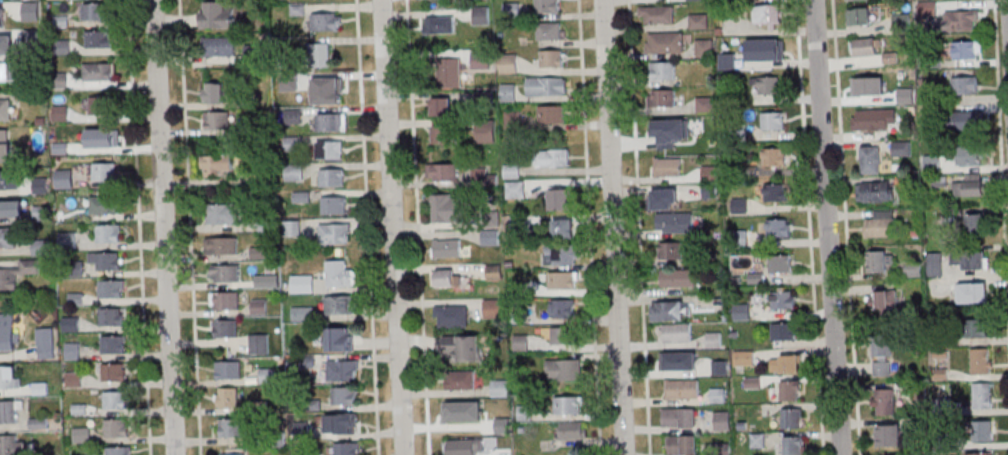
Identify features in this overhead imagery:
building: (547, 6)
building: (96, 12)
building: (217, 14)
building: (657, 14)
building: (481, 15)
building: (768, 15)
building: (859, 16)
building: (962, 20)
building: (326, 21)
building: (698, 21)
building: (901, 22)
building: (440, 24)
building: (549, 31)
building: (7, 39)
building: (99, 39)
building: (665, 42)
building: (219, 46)
building: (863, 46)
building: (703, 49)
building: (764, 49)
building: (967, 49)
building: (320, 55)
building: (551, 59)
building: (480, 60)
building: (508, 62)
building: (663, 70)
building: (6, 71)
building: (450, 71)
building: (98, 72)
building: (965, 85)
building: (334, 86)
building: (552, 86)
building: (767, 86)
building: (869, 88)
building: (508, 91)
building: (214, 93)
building: (904, 95)
building: (662, 98)
building: (102, 106)
building: (441, 106)
building: (5, 109)
building: (550, 114)
building: (874, 119)
building: (218, 121)
building: (331, 121)
building: (772, 121)
building: (968, 121)
building: (668, 129)
building: (486, 134)
building: (3, 135)
building: (99, 138)
building: (901, 148)
building: (327, 149)
building: (5, 152)
building: (971, 155)
building: (775, 156)
building: (553, 157)
building: (870, 159)
building: (932, 162)
building: (216, 165)
building: (668, 167)
building: (105, 171)
building: (444, 172)
building: (332, 178)
building: (64, 179)
building: (9, 180)
building: (969, 186)
building: (515, 189)
building: (875, 191)
building: (776, 192)
building: (561, 198)
building: (664, 199)
building: (104, 204)
building: (333, 205)
building: (447, 208)
building: (11, 209)
building: (225, 212)
building: (674, 222)
building: (880, 224)
building: (976, 224)
road: (139, 227)
road: (164, 227)
road: (190, 227)
road: (367, 227)
road: (393, 227)
road: (417, 227)
building: (563, 227)
road: (590, 227)
road: (615, 227)
road: (639, 227)
building: (779, 227)
road: (810, 227)
road: (828, 227)
road: (846, 227)
building: (292, 228)
building: (108, 233)
building: (331, 233)
building: (490, 237)
building: (8, 238)
building: (221, 246)
building: (40, 247)
building: (446, 248)
building: (670, 250)
building: (565, 253)
building: (969, 260)
building: (878, 261)
building: (109, 262)
building: (781, 263)
building: (494, 271)
building: (18, 273)
building: (227, 274)
building: (340, 274)
building: (445, 278)
building: (678, 278)
building: (564, 280)
building: (303, 284)
building: (110, 289)
building: (977, 292)
building: (783, 299)
building: (886, 301)
building: (225, 302)
building: (341, 304)
building: (494, 308)
building: (562, 308)
building: (672, 311)
building: (302, 313)
building: (450, 316)
building: (113, 317)
building: (979, 327)
building: (226, 329)
building: (783, 331)
building: (7, 332)
building: (673, 332)
building: (561, 335)
building: (338, 338)
building: (713, 339)
building: (45, 343)
building: (113, 344)
building: (462, 348)
building: (882, 357)
building: (744, 358)
building: (679, 361)
building: (981, 361)
building: (785, 363)
building: (228, 369)
building: (563, 369)
building: (342, 370)
building: (114, 373)
building: (9, 378)
building: (459, 380)
building: (40, 383)
building: (681, 389)
building: (790, 390)
building: (343, 395)
building: (981, 396)
building: (227, 397)
building: (116, 400)
building: (883, 402)
building: (569, 404)
building: (79, 409)
building: (10, 411)
building: (524, 412)
building: (791, 417)
building: (678, 418)
building: (462, 419)
building: (722, 420)
building: (38, 423)
building: (346, 423)
building: (232, 426)
building: (116, 429)
building: (572, 429)
building: (982, 431)
building: (82, 434)
building: (889, 436)
building: (12, 445)
building: (682, 445)
building: (792, 445)
building: (462, 447)
building: (347, 448)
building: (120, 451)
building: (233, 452)
building: (981, 453)

